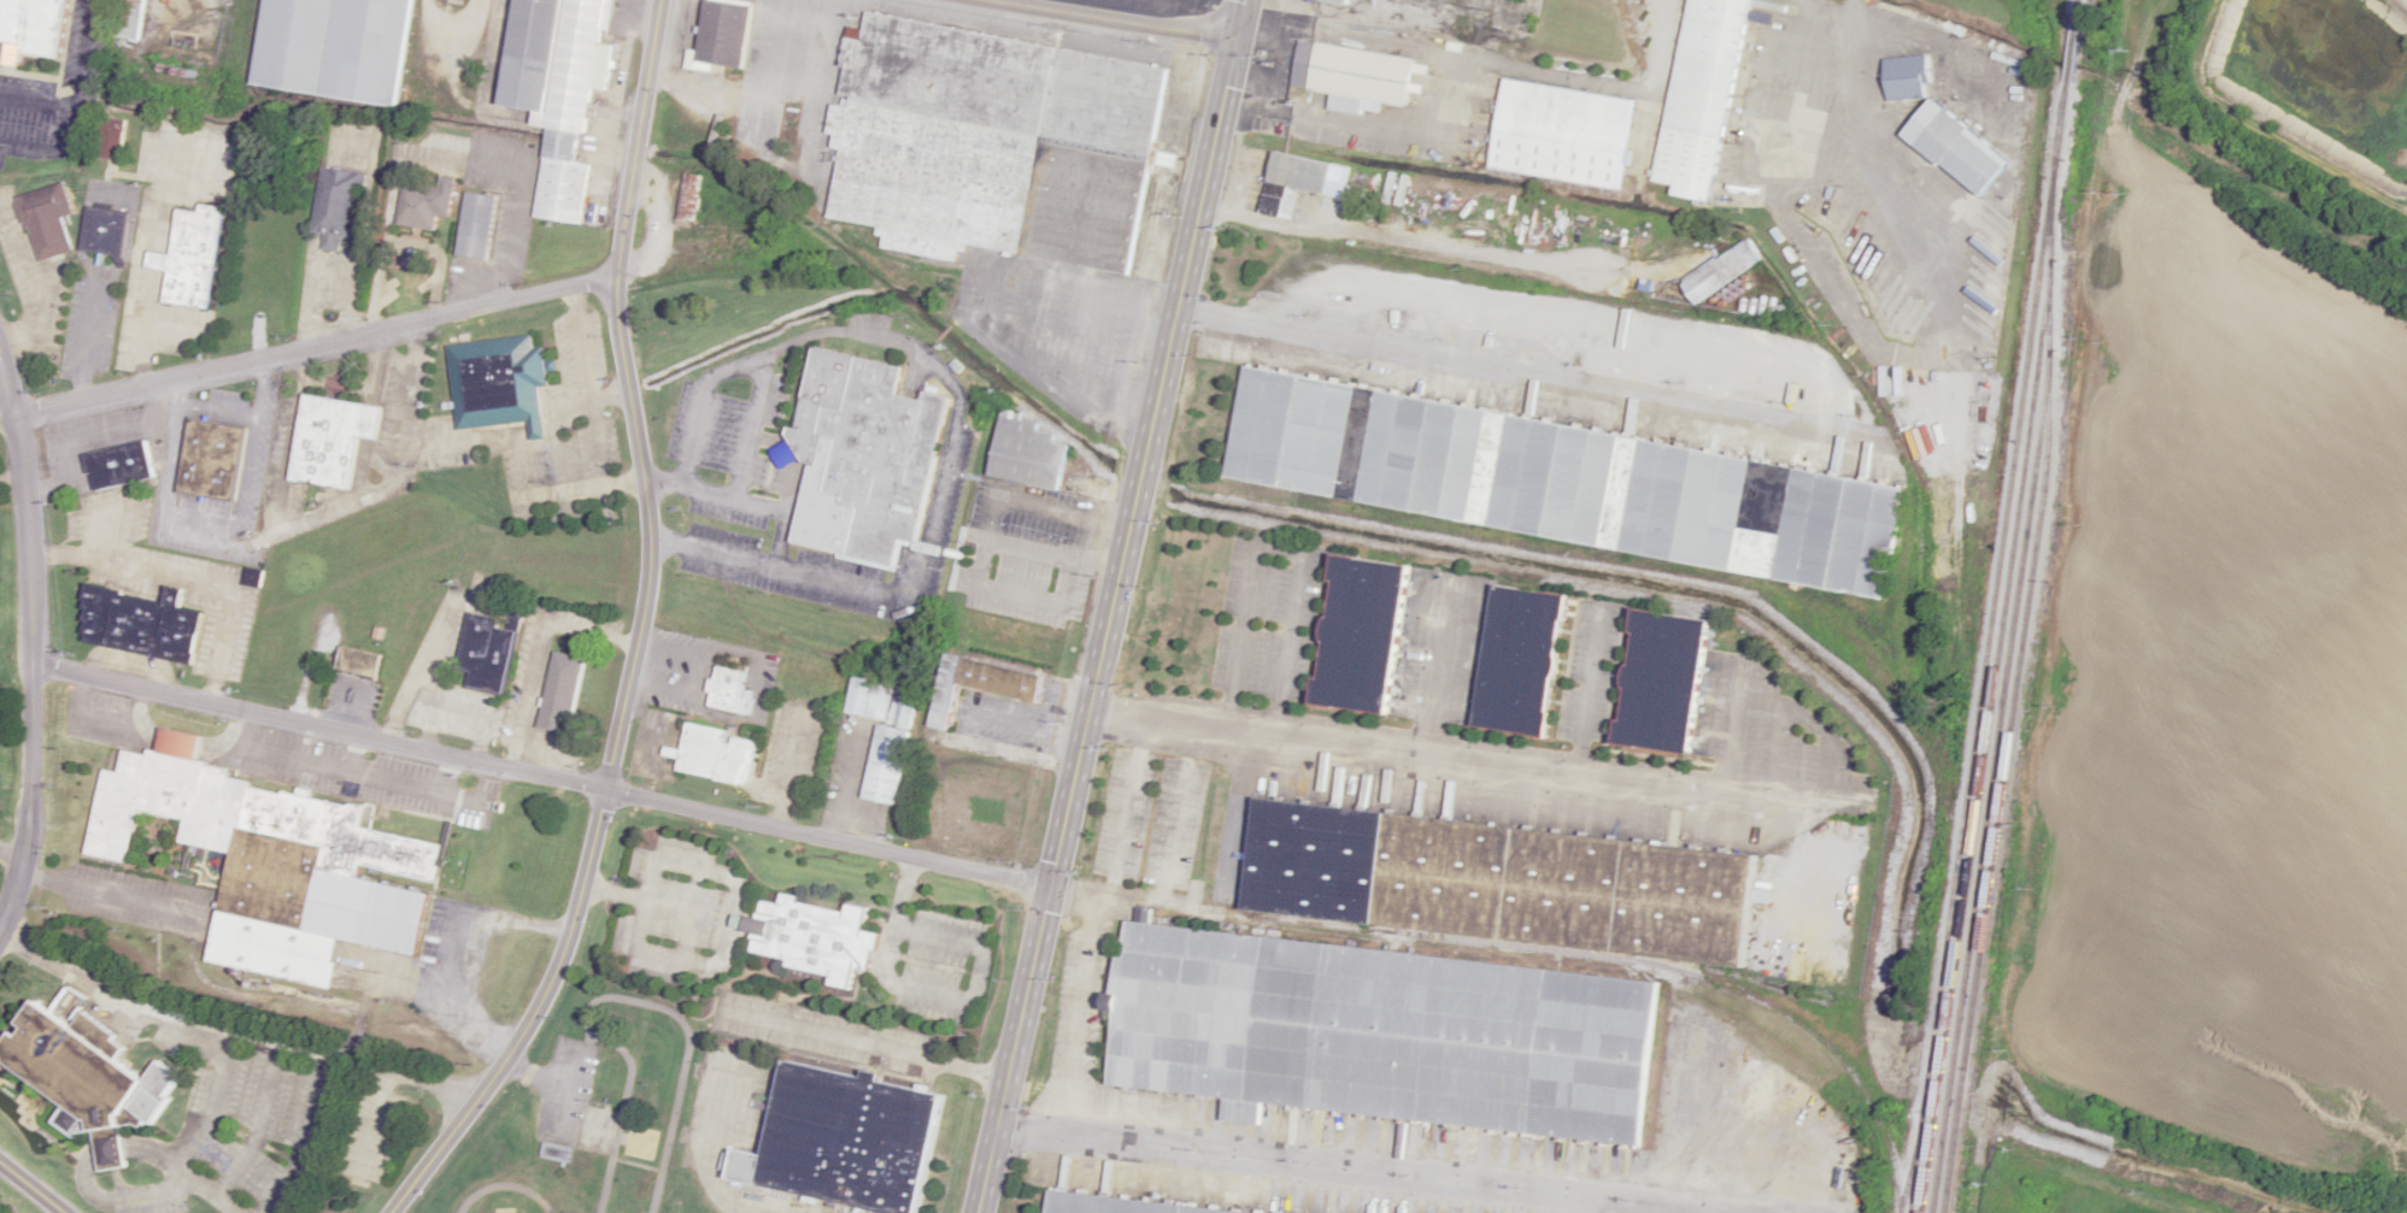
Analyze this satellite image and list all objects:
building: (1340, 0)
road: (1139, 14)
building: (129, 19)
building: (37, 28)
building: (722, 33)
building: (333, 48)
road: (1449, 63)
building: (1352, 76)
building: (1904, 77)
building: (558, 88)
building: (1701, 96)
road: (37, 101)
road: (75, 108)
building: (1014, 131)
building: (1561, 133)
building: (111, 139)
building: (1963, 157)
building: (1293, 181)
building: (688, 195)
building: (344, 206)
building: (418, 206)
building: (49, 220)
building: (475, 225)
road: (363, 226)
building: (112, 231)
road: (155, 231)
building: (199, 259)
building: (1720, 270)
road: (39, 285)
road: (309, 299)
road: (452, 317)
road: (859, 334)
road: (86, 337)
road: (1525, 373)
building: (500, 382)
road: (224, 412)
road: (750, 424)
building: (331, 438)
road: (90, 440)
building: (1026, 453)
building: (862, 458)
building: (218, 460)
building: (125, 466)
building: (1563, 481)
road: (12, 483)
road: (219, 529)
road: (107, 537)
road: (922, 543)
road: (1276, 546)
road: (709, 550)
road: (768, 564)
building: (253, 577)
road: (190, 578)
road: (1109, 606)
railway: (1990, 606)
building: (151, 623)
building: (1361, 634)
road: (30, 647)
building: (967, 648)
building: (487, 652)
building: (357, 661)
building: (1520, 661)
road: (1436, 667)
road: (703, 677)
building: (1662, 682)
railway: (2014, 684)
building: (560, 691)
road: (1585, 694)
road: (143, 711)
road: (14, 713)
building: (1, 724)
road: (236, 731)
building: (882, 732)
road: (1730, 734)
building: (717, 754)
road: (1454, 755)
road: (260, 756)
road: (358, 756)
road: (607, 773)
road: (539, 775)
building: (0, 789)
road: (462, 799)
road: (11, 848)
building: (281, 861)
road: (113, 896)
road: (476, 914)
building: (814, 937)
railway: (1470, 942)
railway: (1590, 968)
building: (1429, 973)
road: (448, 991)
road: (940, 993)
road: (1079, 995)
road: (229, 1027)
road: (867, 1041)
building: (92, 1080)
road: (377, 1120)
road: (264, 1125)
road: (200, 1137)
road: (310, 1138)
building: (845, 1140)
road: (1362, 1170)
railway: (1907, 1176)
road: (86, 1180)
road: (33, 1188)
building: (1104, 1207)

